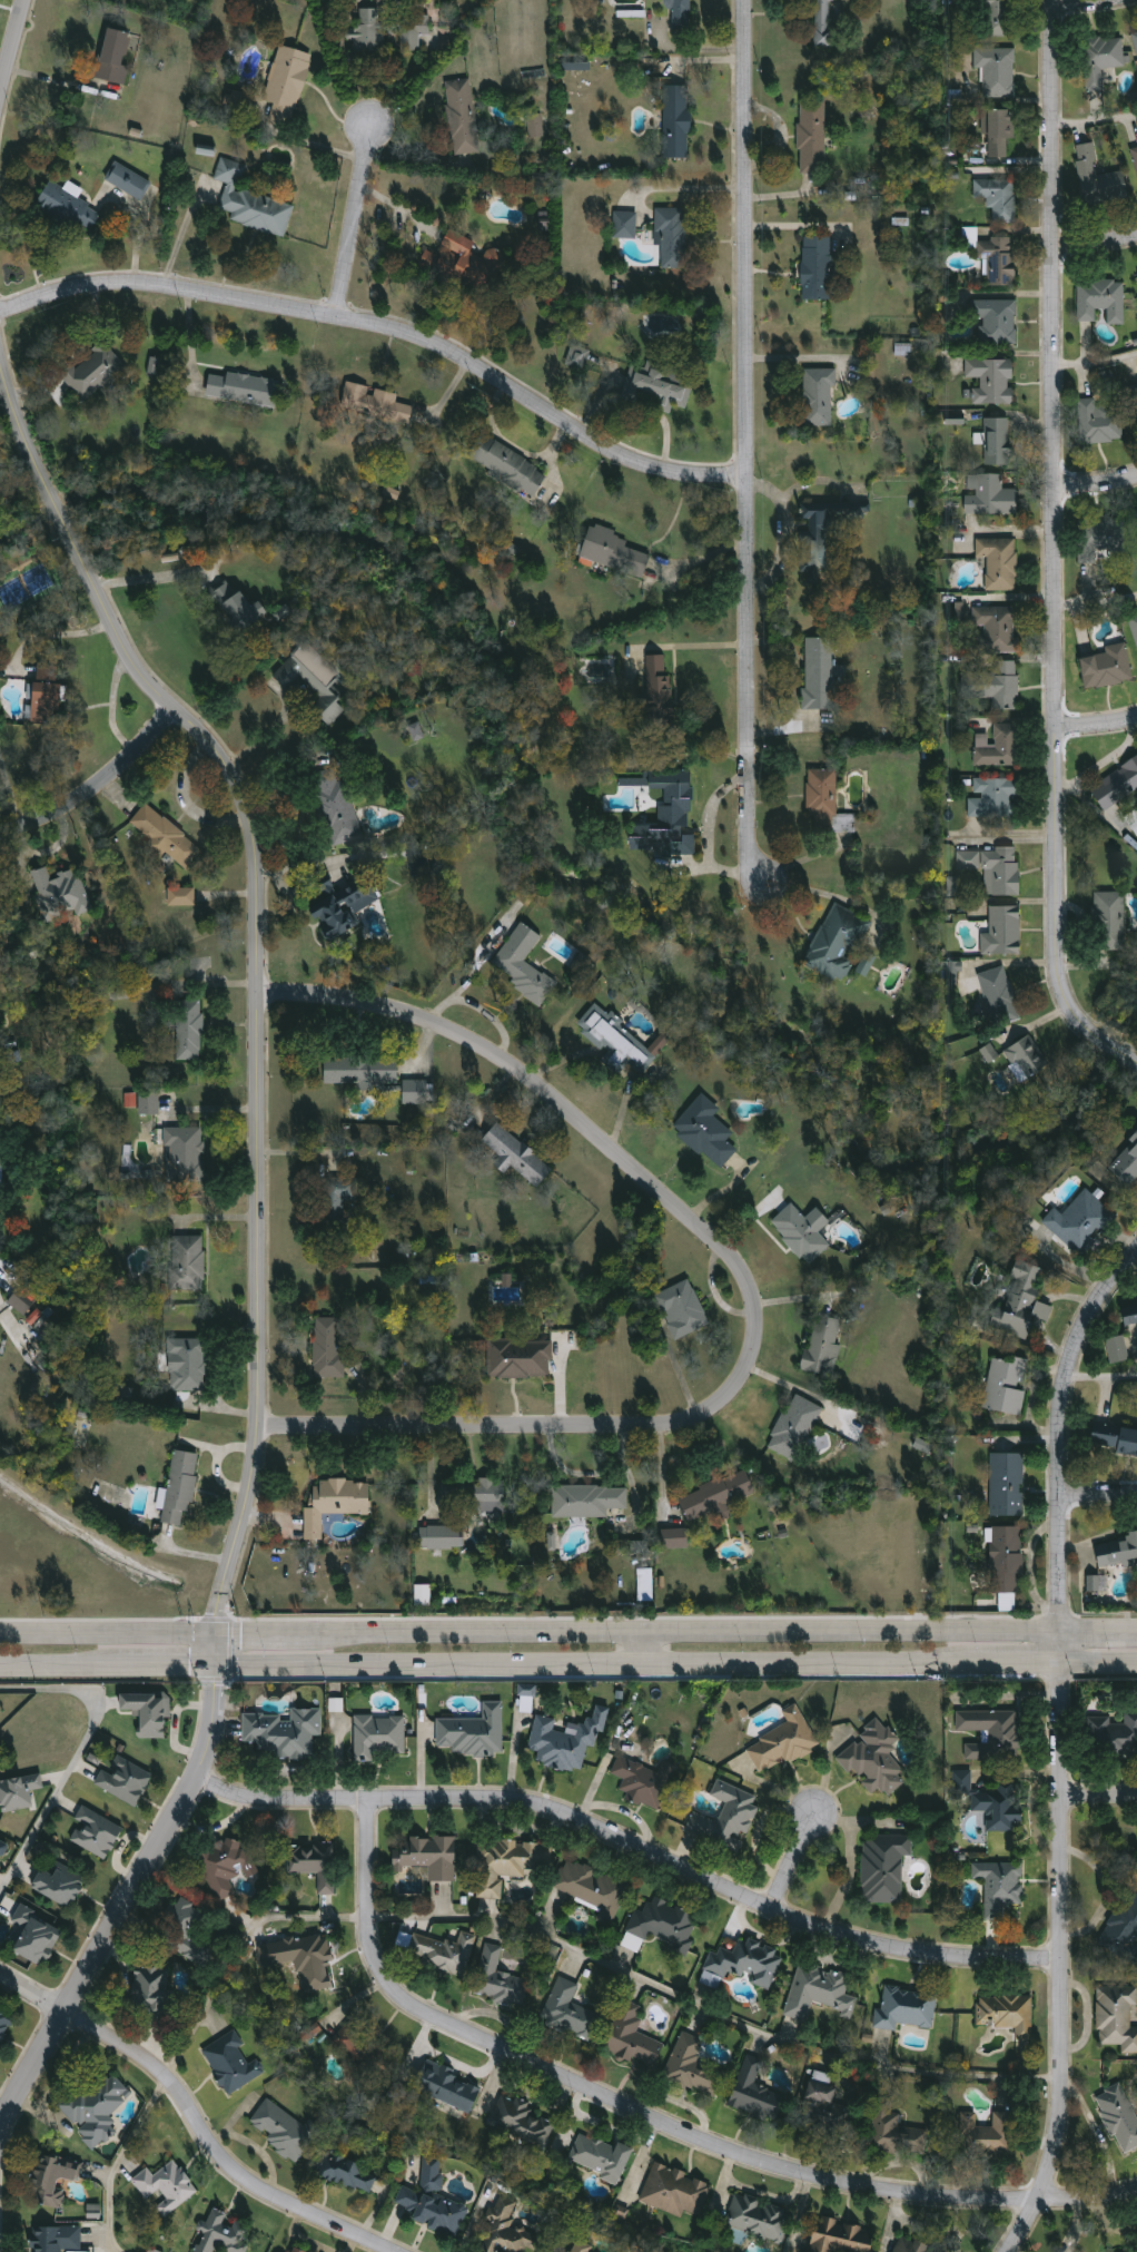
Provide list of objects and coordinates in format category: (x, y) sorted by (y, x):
road: (1090, 4)
building: (680, 13)
building: (997, 18)
building: (823, 23)
building: (414, 31)
building: (1135, 38)
road: (13, 48)
building: (115, 57)
building: (1103, 60)
building: (997, 71)
building: (288, 77)
building: (237, 101)
building: (463, 117)
road: (1095, 119)
building: (678, 121)
building: (537, 126)
building: (1000, 134)
building: (812, 137)
building: (206, 149)
building: (1135, 155)
building: (1098, 178)
building: (129, 180)
building: (998, 198)
building: (251, 203)
building: (68, 206)
road: (354, 220)
building: (625, 225)
building: (672, 238)
road: (1095, 248)
building: (999, 259)
building: (463, 260)
building: (817, 267)
building: (1136, 273)
building: (1101, 299)
building: (998, 321)
road: (388, 328)
road: (72, 356)
road: (1095, 358)
building: (577, 360)
building: (155, 365)
building: (95, 372)
building: (992, 381)
building: (662, 383)
building: (245, 390)
building: (1136, 390)
building: (818, 397)
building: (376, 404)
building: (1099, 423)
building: (998, 442)
road: (748, 444)
building: (508, 465)
road: (1096, 484)
building: (990, 495)
building: (1136, 513)
road: (1014, 529)
building: (1100, 538)
building: (817, 541)
road: (1056, 551)
building: (616, 553)
building: (999, 562)
road: (140, 577)
road: (1096, 600)
building: (236, 607)
building: (1134, 625)
building: (998, 628)
building: (1108, 667)
building: (820, 673)
building: (314, 680)
building: (1000, 685)
building: (659, 689)
building: (47, 696)
road: (1097, 728)
building: (416, 730)
road: (264, 739)
building: (999, 747)
road: (95, 783)
building: (1116, 786)
building: (822, 793)
building: (995, 798)
building: (337, 806)
building: (669, 817)
building: (1133, 824)
road: (1003, 833)
building: (166, 837)
building: (995, 869)
road: (825, 892)
building: (61, 895)
building: (181, 897)
building: (338, 908)
building: (1110, 922)
building: (1003, 932)
building: (839, 943)
building: (866, 963)
building: (523, 964)
road: (259, 965)
road: (473, 966)
building: (950, 971)
building: (121, 991)
building: (1001, 996)
road: (492, 1017)
building: (189, 1030)
building: (616, 1040)
building: (989, 1052)
building: (1027, 1059)
building: (363, 1071)
building: (417, 1093)
building: (149, 1103)
building: (706, 1132)
building: (518, 1157)
building: (184, 1160)
building: (1127, 1164)
building: (337, 1200)
building: (887, 1208)
building: (1081, 1222)
building: (803, 1232)
building: (188, 1262)
road: (753, 1291)
building: (1022, 1301)
building: (21, 1304)
building: (682, 1309)
building: (1130, 1312)
building: (822, 1345)
building: (328, 1348)
building: (1118, 1349)
building: (520, 1359)
building: (188, 1365)
road: (1103, 1376)
building: (1007, 1385)
building: (795, 1426)
road: (1062, 1434)
building: (1115, 1438)
building: (1008, 1485)
building: (180, 1488)
building: (474, 1494)
building: (716, 1496)
road: (1099, 1499)
building: (587, 1501)
building: (336, 1503)
building: (441, 1537)
building: (675, 1538)
building: (552, 1541)
building: (1118, 1553)
building: (1007, 1561)
building: (1096, 1583)
building: (422, 1592)
road: (267, 1634)
road: (690, 1634)
road: (1099, 1634)
traffic signals: (217, 1635)
road: (108, 1636)
road: (650, 1649)
road: (1099, 1661)
road: (1016, 1662)
road: (594, 1663)
road: (61, 1664)
road: (170, 1664)
traffic signals: (218, 1664)
road: (214, 1709)
building: (150, 1712)
building: (284, 1731)
building: (474, 1732)
building: (992, 1732)
building: (380, 1735)
building: (1113, 1735)
building: (565, 1740)
building: (783, 1741)
road: (77, 1756)
building: (874, 1759)
building: (125, 1780)
building: (961, 1780)
building: (645, 1781)
building: (18, 1792)
road: (1099, 1794)
building: (1000, 1806)
building: (728, 1818)
building: (96, 1832)
road: (630, 1845)
building: (2, 1848)
building: (431, 1856)
road: (791, 1859)
building: (508, 1863)
building: (315, 1865)
building: (226, 1866)
building: (884, 1867)
building: (60, 1885)
building: (593, 1889)
building: (1001, 1889)
building: (662, 1925)
building: (187, 1931)
building: (1123, 1934)
building: (36, 1935)
road: (1059, 1949)
road: (96, 1950)
building: (445, 1954)
building: (312, 1961)
building: (749, 1963)
building: (502, 1980)
road: (31, 1992)
building: (819, 1992)
building: (154, 1995)
building: (907, 2008)
road: (711, 2009)
building: (570, 2010)
building: (1007, 2014)
building: (1117, 2017)
building: (6, 2024)
building: (313, 2030)
building: (633, 2036)
building: (364, 2049)
building: (233, 2064)
building: (692, 2068)
building: (449, 2087)
building: (757, 2094)
building: (97, 2111)
building: (828, 2111)
building: (1120, 2116)
building: (524, 2122)
road: (656, 2122)
building: (283, 2131)
building: (897, 2131)
building: (995, 2136)
road: (214, 2150)
building: (601, 2157)
road: (118, 2160)
building: (348, 2172)
building: (52, 2180)
building: (168, 2186)
building: (675, 2191)
building: (434, 2203)
building: (762, 2219)
building: (508, 2231)
building: (225, 2234)
building: (842, 2236)
building: (56, 2239)
building: (909, 2246)
building: (276, 2251)
building: (295, 2251)

